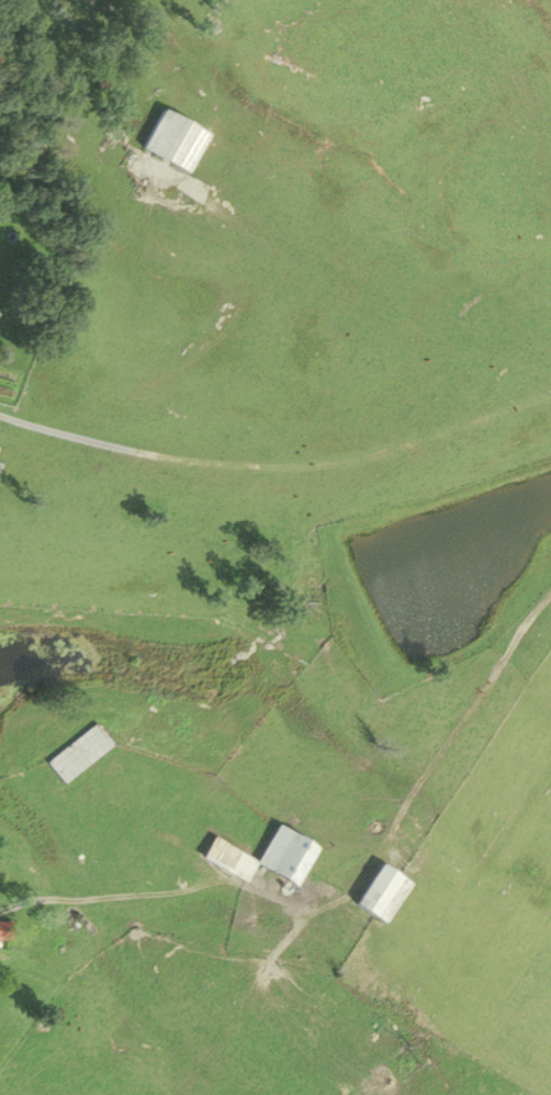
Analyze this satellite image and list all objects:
building: (175, 139)
building: (79, 752)
building: (284, 855)
building: (381, 893)
building: (5, 930)

